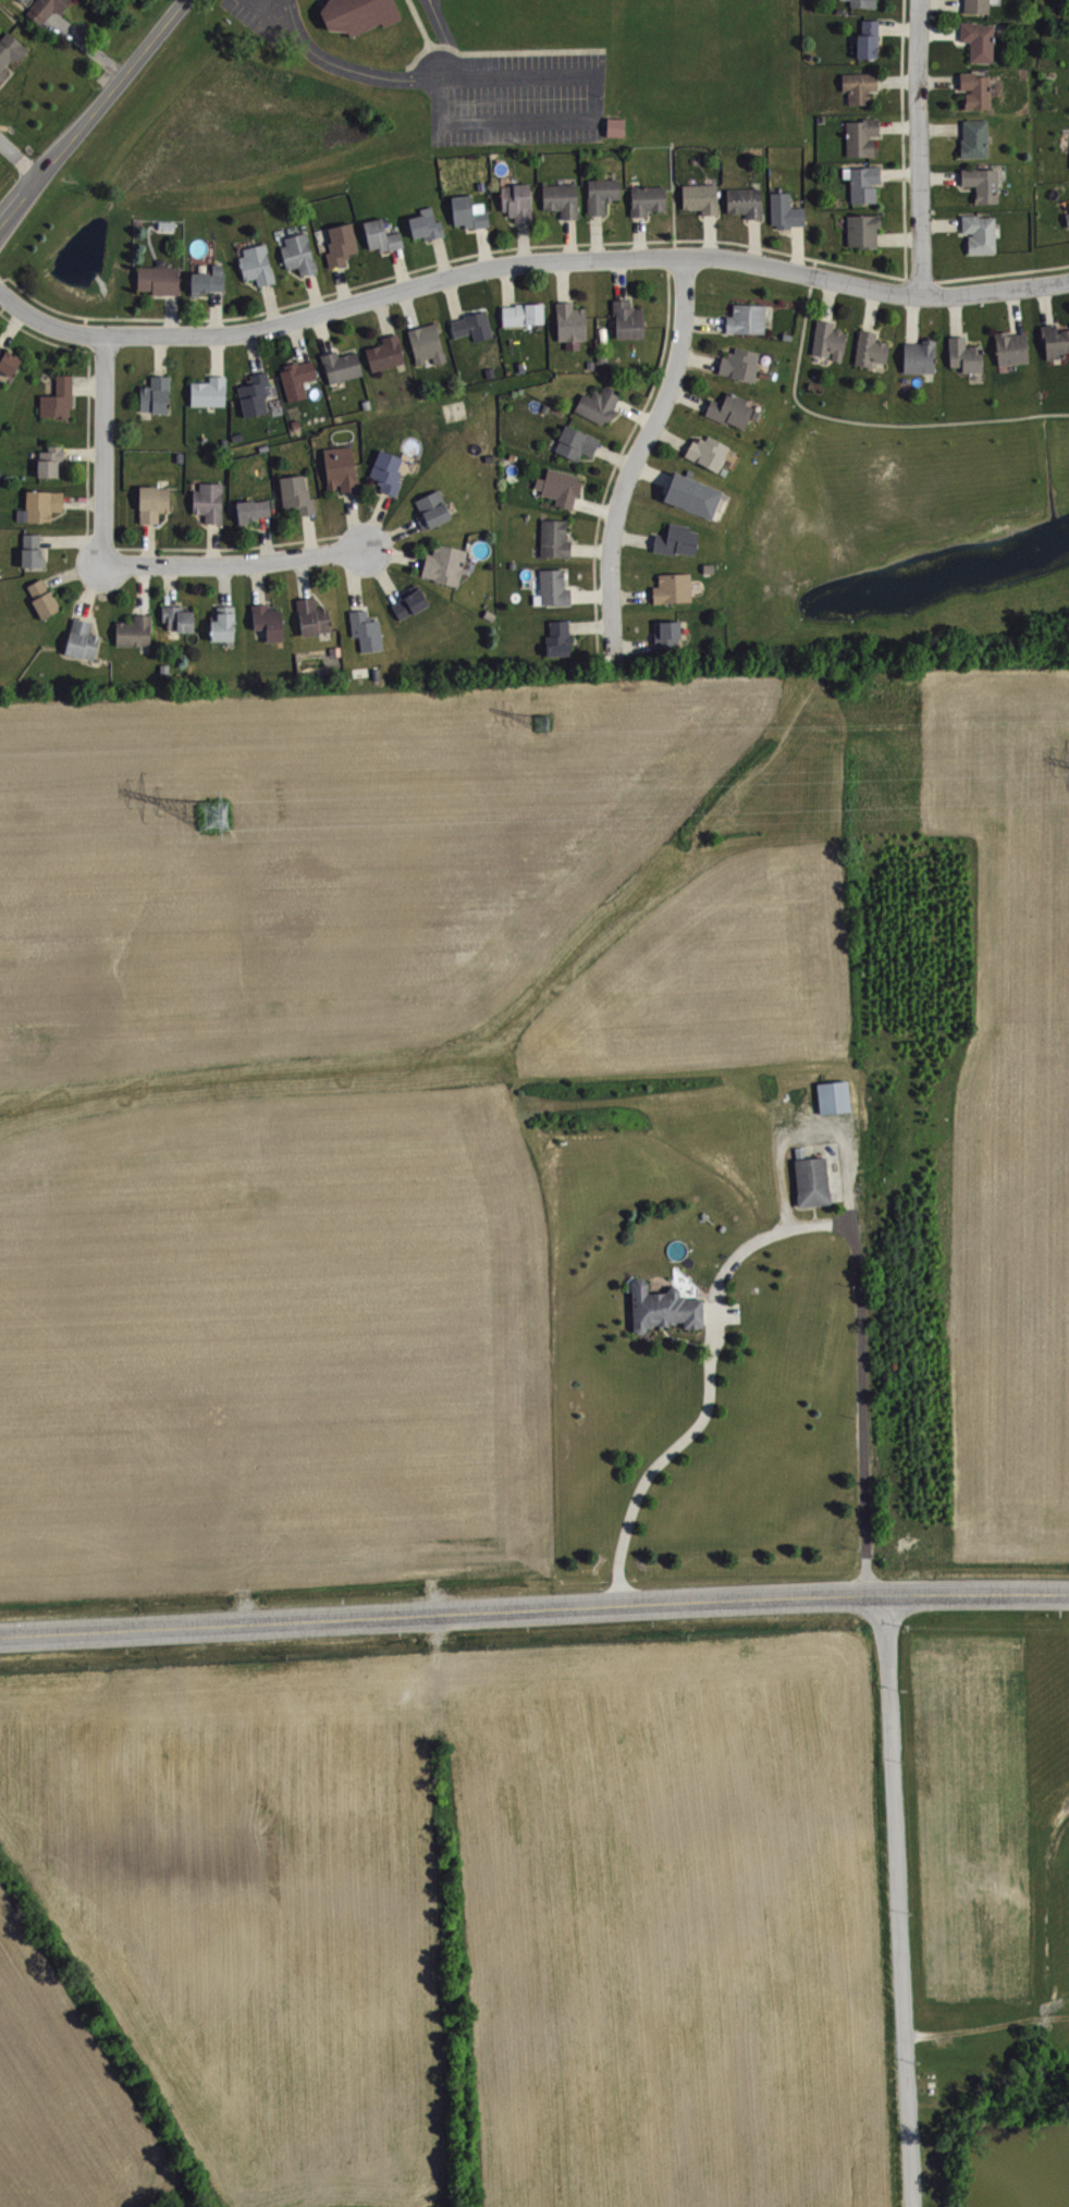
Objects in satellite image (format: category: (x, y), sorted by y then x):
building: (867, 3)
building: (980, 7)
building: (48, 9)
building: (361, 14)
building: (871, 40)
building: (982, 41)
building: (11, 54)
road: (421, 78)
building: (862, 87)
building: (979, 91)
road: (91, 115)
building: (618, 127)
building: (864, 137)
building: (978, 139)
road: (918, 145)
road: (21, 160)
building: (865, 184)
building: (985, 184)
building: (605, 195)
building: (704, 198)
building: (565, 199)
building: (651, 200)
building: (520, 201)
building: (748, 203)
building: (471, 212)
building: (789, 212)
building: (1068, 214)
building: (429, 225)
building: (867, 231)
building: (983, 234)
building: (384, 236)
building: (344, 244)
building: (302, 254)
building: (259, 265)
road: (525, 267)
building: (161, 280)
building: (211, 281)
building: (526, 315)
building: (750, 319)
building: (631, 320)
building: (575, 326)
building: (477, 327)
building: (832, 341)
building: (1057, 342)
building: (430, 344)
building: (1015, 348)
building: (873, 350)
building: (389, 354)
building: (968, 356)
building: (922, 357)
building: (10, 361)
building: (744, 365)
building: (344, 366)
building: (300, 380)
building: (212, 393)
building: (259, 394)
building: (159, 396)
building: (61, 399)
building: (601, 406)
building: (735, 412)
building: (579, 443)
road: (107, 452)
building: (711, 453)
road: (638, 456)
building: (53, 462)
building: (343, 469)
building: (391, 471)
building: (563, 488)
building: (299, 494)
building: (696, 495)
building: (211, 502)
building: (156, 504)
building: (257, 510)
building: (434, 511)
building: (557, 539)
building: (680, 541)
building: (35, 551)
building: (447, 565)
road: (237, 567)
building: (555, 589)
building: (676, 589)
building: (46, 598)
building: (413, 605)
building: (181, 618)
building: (316, 618)
building: (271, 622)
building: (226, 625)
building: (137, 632)
building: (369, 632)
building: (671, 635)
building: (562, 639)
building: (85, 640)
power tower: (542, 723)
power tower: (214, 816)
building: (836, 1098)
building: (815, 1182)
road: (787, 1231)
building: (666, 1309)
road: (533, 1610)
road: (900, 1902)
road: (987, 2027)

